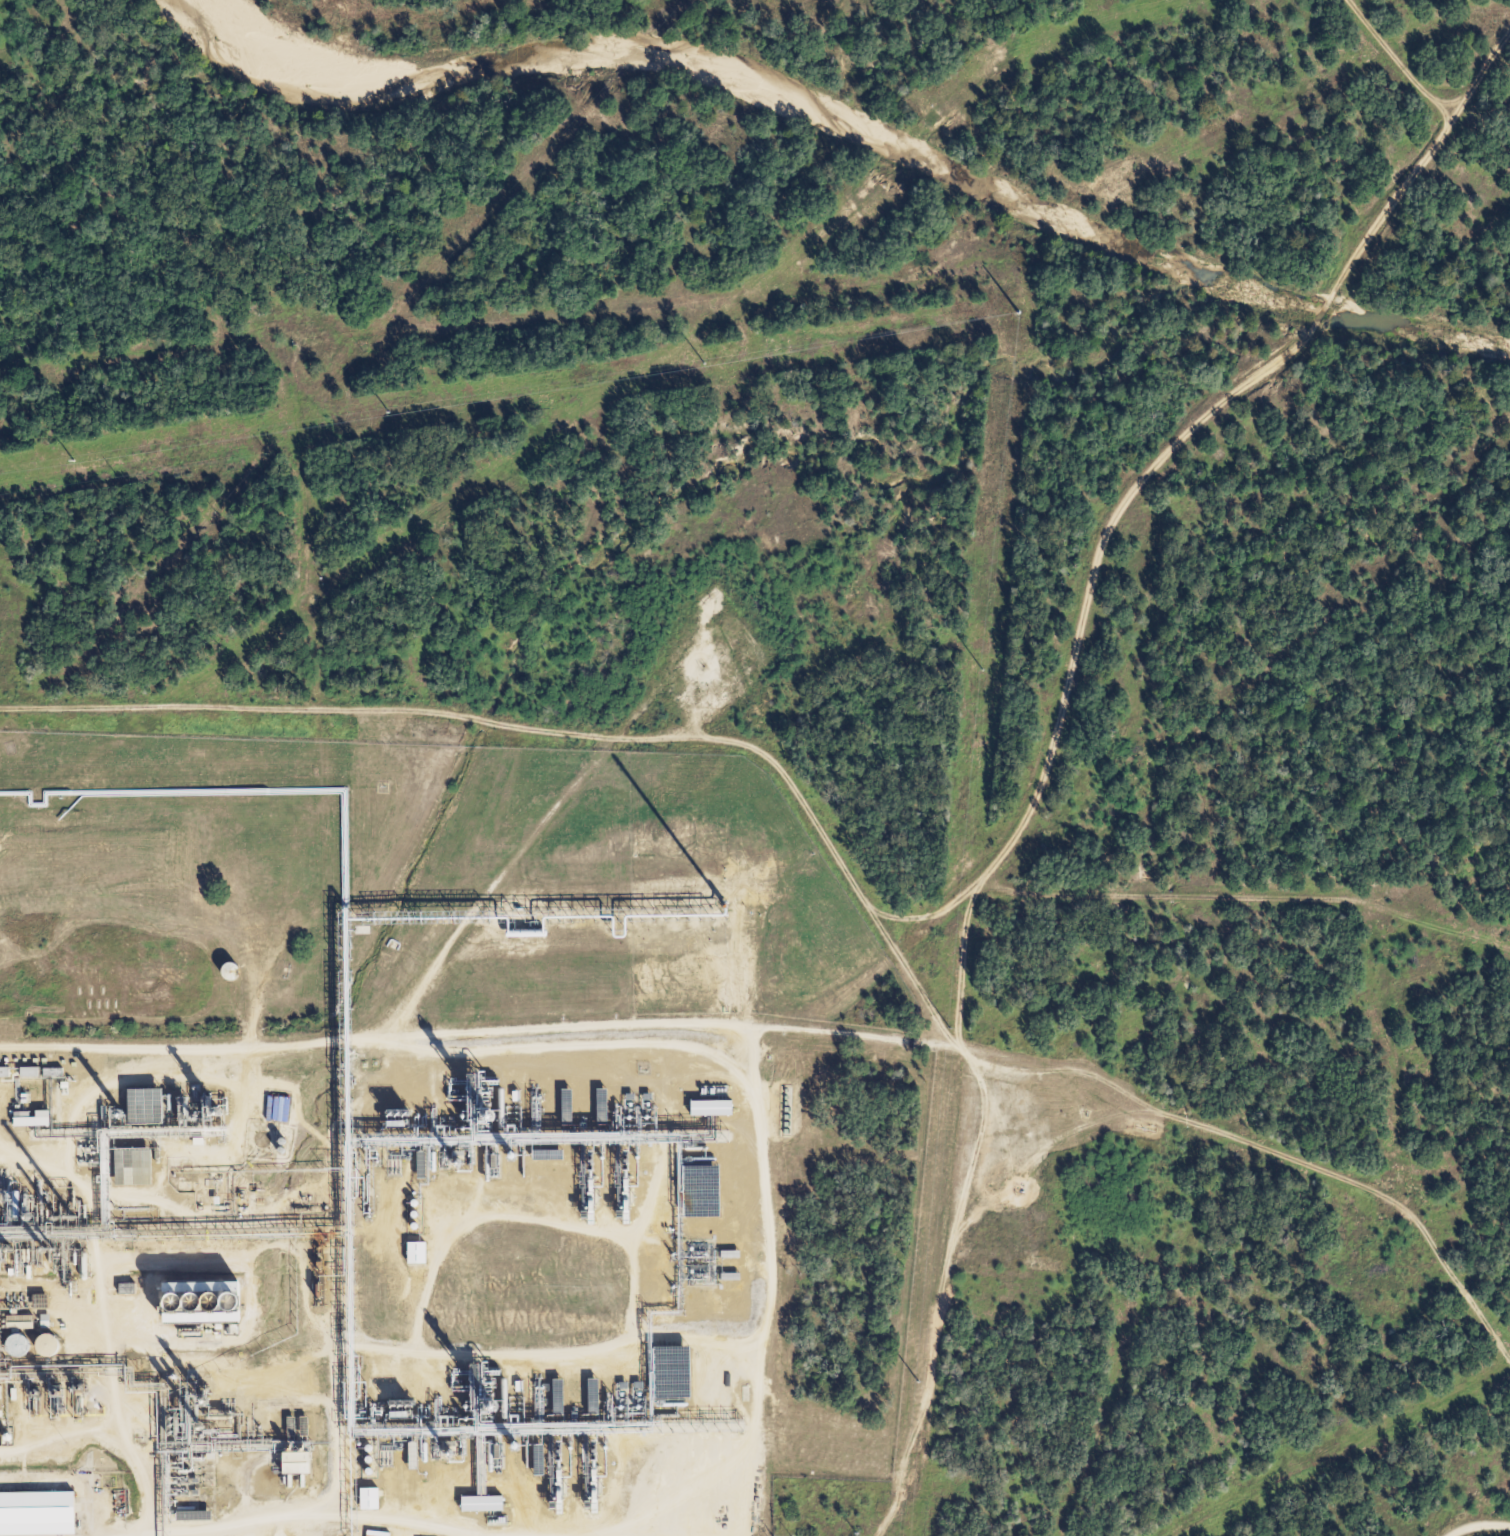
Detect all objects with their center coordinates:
road: (1402, 58)
road: (1184, 431)
road: (1076, 891)
road: (720, 1022)
building: (132, 1105)
road: (239, 1139)
building: (121, 1167)
road: (214, 1232)
building: (117, 1288)
building: (200, 1301)
road: (752, 1310)
building: (10, 1322)
road: (121, 1385)
road: (768, 1451)
building: (285, 1463)
building: (31, 1508)
road: (1479, 1533)

